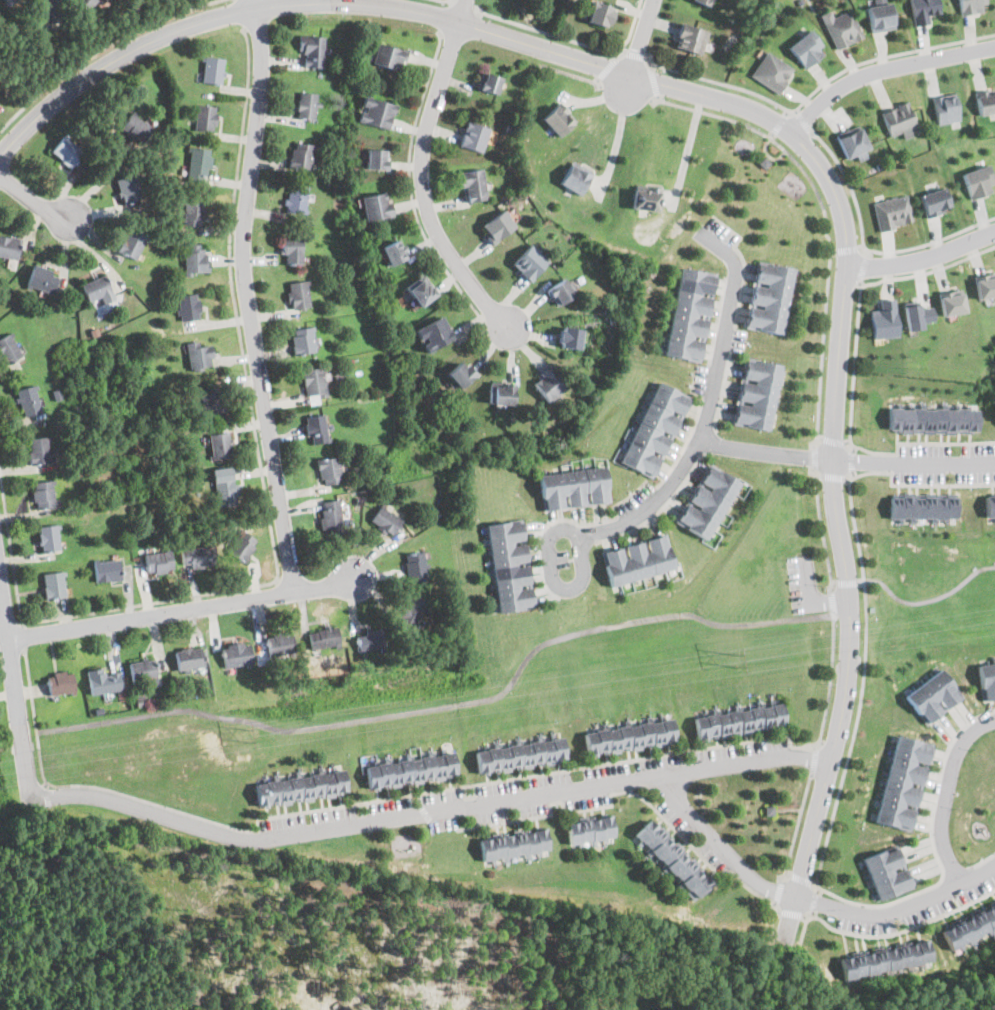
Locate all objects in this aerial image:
building: (9, 0)
road: (447, 1)
building: (86, 2)
building: (704, 2)
road: (465, 4)
building: (971, 6)
building: (49, 9)
building: (922, 10)
road: (239, 13)
building: (599, 13)
road: (445, 16)
building: (878, 16)
building: (839, 28)
road: (641, 36)
building: (691, 39)
road: (577, 43)
building: (805, 47)
building: (312, 49)
road: (100, 50)
road: (635, 54)
building: (388, 56)
building: (213, 69)
road: (608, 69)
road: (882, 69)
building: (770, 72)
road: (574, 74)
building: (488, 82)
road: (655, 82)
road: (627, 85)
road: (811, 92)
building: (986, 100)
building: (306, 105)
building: (945, 107)
building: (376, 112)
building: (205, 117)
building: (558, 119)
building: (897, 119)
road: (802, 121)
road: (780, 123)
road: (780, 126)
building: (136, 127)
road: (771, 135)
building: (474, 136)
building: (851, 142)
road: (615, 144)
road: (689, 144)
building: (66, 150)
building: (301, 154)
building: (376, 158)
building: (199, 162)
road: (421, 172)
building: (575, 177)
building: (978, 181)
building: (473, 183)
road: (849, 187)
building: (128, 188)
road: (410, 189)
building: (647, 197)
road: (33, 198)
building: (296, 199)
building: (934, 201)
building: (376, 205)
building: (194, 211)
building: (891, 212)
road: (825, 223)
building: (498, 226)
building: (131, 242)
road: (928, 243)
building: (9, 246)
building: (292, 249)
road: (844, 251)
building: (392, 252)
road: (923, 257)
building: (195, 258)
building: (529, 262)
road: (863, 268)
road: (928, 272)
building: (42, 279)
building: (985, 285)
building: (97, 290)
building: (420, 290)
building: (561, 292)
building: (297, 293)
road: (246, 295)
building: (769, 298)
building: (951, 301)
building: (187, 306)
building: (690, 314)
building: (917, 314)
building: (884, 318)
building: (433, 335)
building: (570, 338)
building: (302, 340)
building: (9, 349)
building: (198, 354)
building: (461, 374)
building: (314, 384)
building: (549, 385)
building: (501, 393)
building: (756, 394)
building: (28, 400)
building: (212, 402)
building: (932, 419)
building: (316, 429)
building: (654, 430)
road: (833, 441)
road: (846, 444)
building: (219, 445)
road: (734, 447)
building: (38, 450)
road: (815, 457)
road: (852, 460)
building: (329, 469)
road: (834, 477)
road: (937, 485)
building: (224, 487)
building: (573, 487)
building: (42, 493)
building: (707, 501)
building: (990, 504)
building: (922, 506)
road: (267, 507)
building: (331, 517)
building: (385, 521)
road: (822, 527)
road: (578, 529)
building: (49, 537)
building: (241, 545)
building: (198, 557)
building: (638, 560)
building: (158, 561)
building: (415, 564)
building: (510, 565)
building: (107, 569)
road: (844, 582)
building: (54, 583)
road: (925, 600)
road: (832, 603)
road: (181, 608)
building: (411, 611)
building: (323, 636)
road: (23, 637)
building: (370, 640)
building: (280, 643)
building: (236, 654)
building: (190, 659)
power tower: (733, 659)
building: (143, 671)
building: (103, 679)
building: (986, 679)
building: (61, 682)
road: (15, 694)
building: (932, 696)
road: (448, 706)
road: (34, 719)
building: (739, 721)
power tower: (246, 733)
building: (630, 736)
building: (520, 754)
road: (814, 760)
building: (411, 769)
road: (493, 782)
building: (903, 782)
building: (300, 786)
road: (946, 793)
road: (428, 812)
road: (831, 824)
building: (591, 828)
road: (797, 830)
building: (514, 843)
building: (672, 859)
road: (982, 862)
building: (887, 871)
road: (955, 873)
road: (801, 878)
road: (808, 901)
road: (816, 901)
building: (970, 928)
building: (886, 959)

